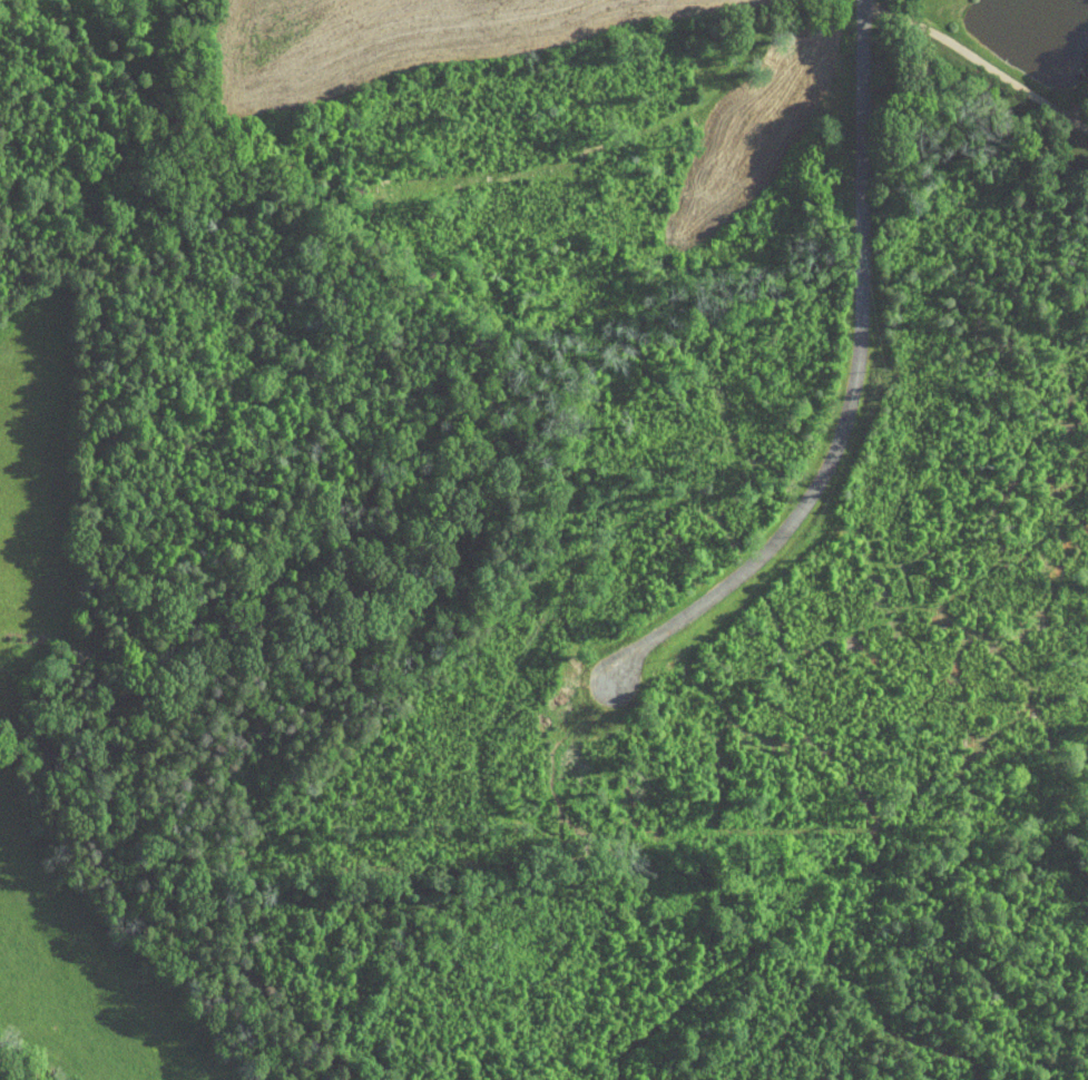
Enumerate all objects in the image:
road: (986, 56)
road: (855, 377)

